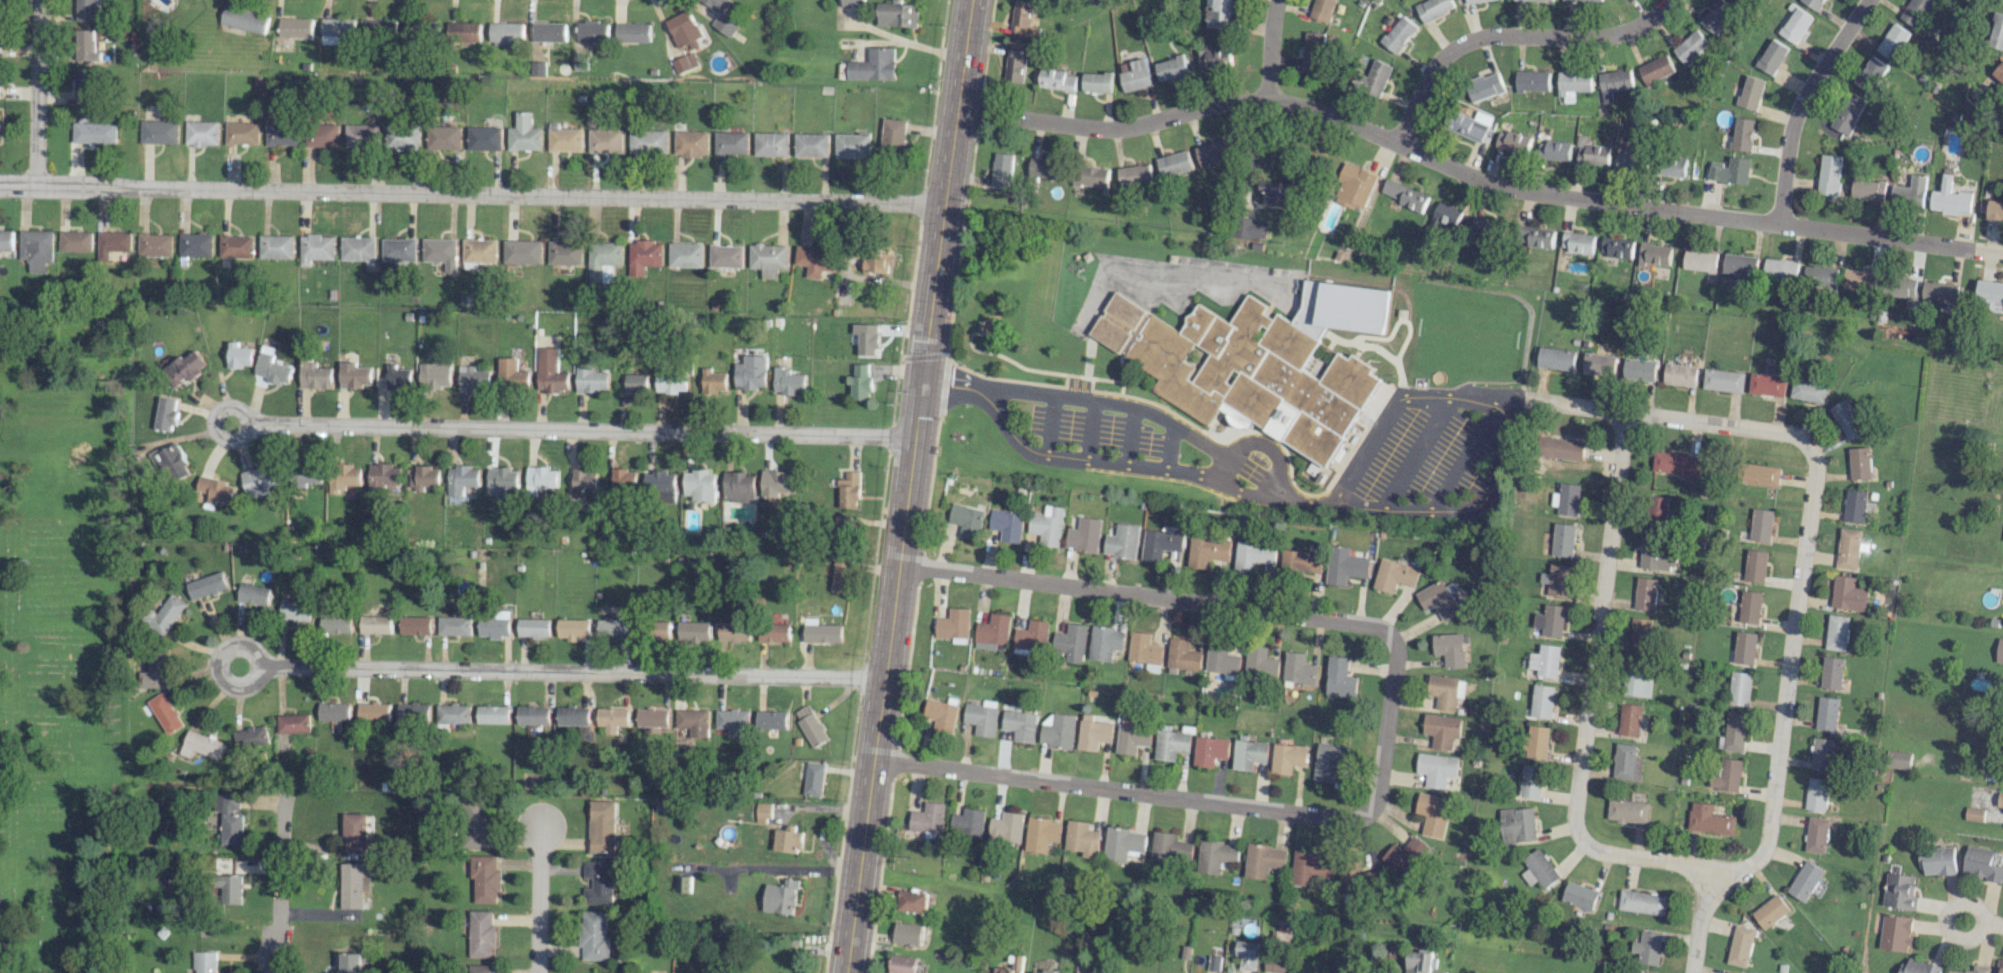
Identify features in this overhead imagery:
building: (0, 0)
building: (1534, 0)
building: (1586, 0)
building: (1476, 1)
building: (2001, 1)
building: (852, 3)
building: (1815, 3)
building: (1431, 8)
building: (1321, 10)
building: (86, 11)
building: (1915, 12)
building: (897, 14)
building: (1218, 14)
building: (1716, 15)
building: (722, 17)
building: (1023, 18)
building: (243, 20)
building: (1796, 24)
building: (295, 28)
building: (380, 29)
building: (684, 29)
building: (336, 30)
building: (466, 31)
building: (548, 32)
building: (593, 32)
building: (632, 32)
building: (1996, 32)
building: (506, 34)
building: (1398, 34)
road: (1510, 39)
road: (905, 41)
building: (1893, 41)
building: (85, 46)
building: (1690, 46)
road: (1269, 47)
building: (1311, 52)
building: (1773, 57)
building: (1215, 58)
building: (1016, 61)
building: (579, 62)
building: (687, 62)
building: (874, 65)
building: (536, 68)
building: (1171, 68)
building: (1654, 69)
building: (1999, 73)
building: (1870, 74)
building: (1134, 75)
building: (1375, 78)
building: (1058, 79)
building: (1530, 80)
building: (1097, 82)
building: (1612, 83)
building: (84, 84)
building: (1571, 84)
building: (1483, 86)
road: (36, 91)
building: (1751, 92)
road: (1800, 102)
building: (1846, 115)
building: (1467, 125)
building: (94, 132)
building: (158, 132)
building: (201, 133)
building: (241, 133)
building: (281, 134)
building: (523, 134)
building: (1744, 134)
building: (322, 136)
building: (361, 136)
building: (892, 136)
building: (403, 137)
building: (444, 137)
building: (484, 138)
building: (564, 140)
building: (605, 141)
building: (647, 141)
building: (1510, 142)
building: (691, 143)
building: (731, 143)
building: (771, 144)
building: (811, 145)
building: (852, 145)
building: (1555, 150)
building: (1590, 152)
building: (1211, 153)
building: (1627, 161)
building: (1174, 163)
building: (1672, 166)
building: (1046, 168)
building: (1002, 170)
building: (1731, 171)
road: (1472, 174)
building: (1828, 175)
building: (1134, 176)
building: (1089, 177)
building: (1353, 186)
building: (1867, 189)
building: (1278, 191)
road: (471, 192)
building: (1909, 192)
building: (1403, 195)
building: (1949, 198)
building: (1995, 210)
building: (1443, 216)
building: (1484, 227)
building: (1249, 228)
building: (1538, 237)
building: (75, 241)
building: (1577, 242)
building: (5, 243)
building: (112, 243)
building: (154, 245)
building: (195, 245)
building: (236, 246)
building: (276, 247)
building: (315, 248)
building: (357, 248)
building: (1616, 248)
building: (36, 249)
building: (397, 250)
building: (439, 252)
building: (478, 252)
building: (521, 252)
building: (563, 253)
building: (1655, 254)
building: (685, 255)
building: (643, 256)
building: (725, 256)
building: (768, 259)
building: (814, 260)
building: (1700, 260)
building: (602, 261)
building: (878, 262)
building: (1740, 264)
building: (1780, 270)
building: (1818, 275)
building: (1859, 280)
building: (1905, 287)
building: (1939, 292)
building: (1989, 295)
building: (867, 339)
building: (239, 356)
building: (1557, 358)
building: (1257, 362)
building: (1600, 364)
building: (272, 367)
building: (1641, 369)
building: (550, 372)
building: (435, 373)
building: (510, 373)
building: (751, 373)
building: (314, 375)
building: (354, 375)
building: (1681, 375)
building: (397, 378)
building: (669, 378)
building: (472, 379)
building: (590, 380)
building: (1725, 380)
building: (710, 381)
building: (788, 382)
traffic signals: (920, 382)
building: (861, 383)
building: (635, 384)
building: (1767, 385)
building: (1808, 390)
road: (1516, 400)
building: (165, 414)
road: (1157, 415)
road: (1505, 416)
building: (1847, 419)
road: (212, 421)
road: (581, 430)
building: (1563, 449)
road: (1415, 450)
road: (1464, 455)
building: (1860, 463)
road: (1112, 464)
building: (1676, 465)
building: (307, 474)
building: (1761, 475)
building: (382, 476)
building: (343, 477)
building: (424, 477)
building: (541, 478)
building: (461, 479)
building: (624, 479)
building: (258, 480)
building: (501, 480)
building: (584, 481)
building: (776, 483)
building: (659, 485)
building: (699, 485)
road: (906, 486)
building: (738, 487)
building: (214, 490)
building: (849, 490)
building: (1567, 499)
building: (1856, 506)
building: (1656, 512)
building: (965, 519)
building: (993, 519)
building: (1763, 524)
building: (1046, 525)
building: (844, 532)
building: (1084, 535)
building: (1562, 540)
building: (1122, 541)
building: (1161, 543)
building: (1849, 548)
building: (1208, 550)
building: (1656, 554)
building: (1253, 556)
road: (1803, 556)
building: (1303, 560)
building: (1346, 565)
building: (1758, 565)
building: (1395, 575)
building: (841, 577)
building: (1556, 580)
building: (206, 585)
building: (1646, 593)
building: (253, 594)
road: (1144, 594)
building: (1848, 594)
building: (1439, 600)
building: (1752, 606)
building: (295, 610)
building: (165, 613)
building: (1550, 620)
building: (336, 623)
building: (375, 625)
building: (415, 625)
building: (953, 625)
building: (455, 626)
building: (495, 626)
building: (534, 628)
building: (574, 629)
building: (614, 629)
building: (661, 631)
building: (694, 631)
building: (733, 631)
building: (1838, 631)
building: (773, 632)
building: (820, 632)
building: (987, 633)
building: (1640, 633)
building: (1031, 638)
building: (1071, 642)
building: (1105, 642)
building: (1747, 647)
building: (1450, 648)
building: (1144, 649)
building: (2000, 650)
building: (1183, 655)
park: (62, 659)
building: (1544, 660)
building: (1223, 661)
building: (1260, 662)
road: (214, 665)
building: (154, 669)
building: (1299, 669)
road: (571, 672)
building: (1833, 672)
building: (1341, 677)
building: (1640, 679)
building: (1741, 688)
building: (1444, 691)
building: (1542, 700)
road: (1586, 708)
building: (373, 712)
building: (414, 712)
building: (164, 713)
building: (453, 713)
building: (1827, 713)
building: (334, 714)
building: (493, 714)
building: (532, 715)
building: (941, 715)
building: (572, 716)
building: (652, 717)
building: (981, 718)
building: (611, 719)
building: (771, 720)
building: (1629, 720)
building: (731, 721)
building: (691, 722)
building: (293, 723)
building: (1020, 725)
building: (810, 726)
building: (1058, 730)
building: (1443, 730)
building: (1733, 732)
building: (1093, 733)
building: (251, 737)
building: (1132, 738)
building: (1536, 741)
building: (1172, 743)
building: (201, 745)
building: (1210, 750)
building: (1249, 754)
building: (1821, 754)
building: (1288, 758)
building: (1898, 760)
building: (1330, 761)
building: (1626, 762)
building: (1437, 769)
building: (1726, 775)
building: (814, 779)
building: (1530, 781)
building: (1816, 794)
building: (2000, 800)
road: (1211, 803)
building: (1627, 811)
building: (763, 812)
building: (1433, 814)
building: (1974, 814)
building: (229, 817)
building: (928, 818)
building: (1708, 819)
building: (967, 823)
building: (476, 824)
building: (1516, 824)
building: (601, 826)
building: (993, 831)
building: (354, 832)
building: (1041, 834)
building: (1816, 835)
building: (1082, 838)
building: (787, 840)
building: (1123, 843)
building: (1170, 848)
building: (1215, 855)
building: (1404, 855)
building: (1262, 860)
building: (1936, 860)
building: (1982, 863)
building: (1308, 868)
road: (773, 869)
building: (1537, 869)
building: (485, 878)
road: (277, 879)
building: (1356, 879)
building: (1804, 880)
building: (598, 883)
building: (683, 884)
building: (351, 885)
building: (229, 889)
road: (1697, 890)
building: (1898, 891)
building: (1578, 895)
road: (538, 896)
building: (780, 897)
building: (911, 901)
building: (1640, 902)
building: (1769, 911)
road: (1944, 916)
road: (1991, 923)
road: (9, 932)
building: (1894, 932)
building: (481, 934)
building: (908, 934)
building: (594, 936)
building: (1740, 945)
road: (1694, 946)
building: (1646, 948)
building: (1246, 954)
building: (1017, 961)
building: (205, 962)
building: (1421, 962)
building: (347, 963)
building: (1214, 963)
building: (905, 965)
building: (1275, 965)
building: (1917, 966)
building: (2000, 966)
building: (482, 968)
building: (1981, 970)
building: (1047, 971)
building: (1634, 972)

